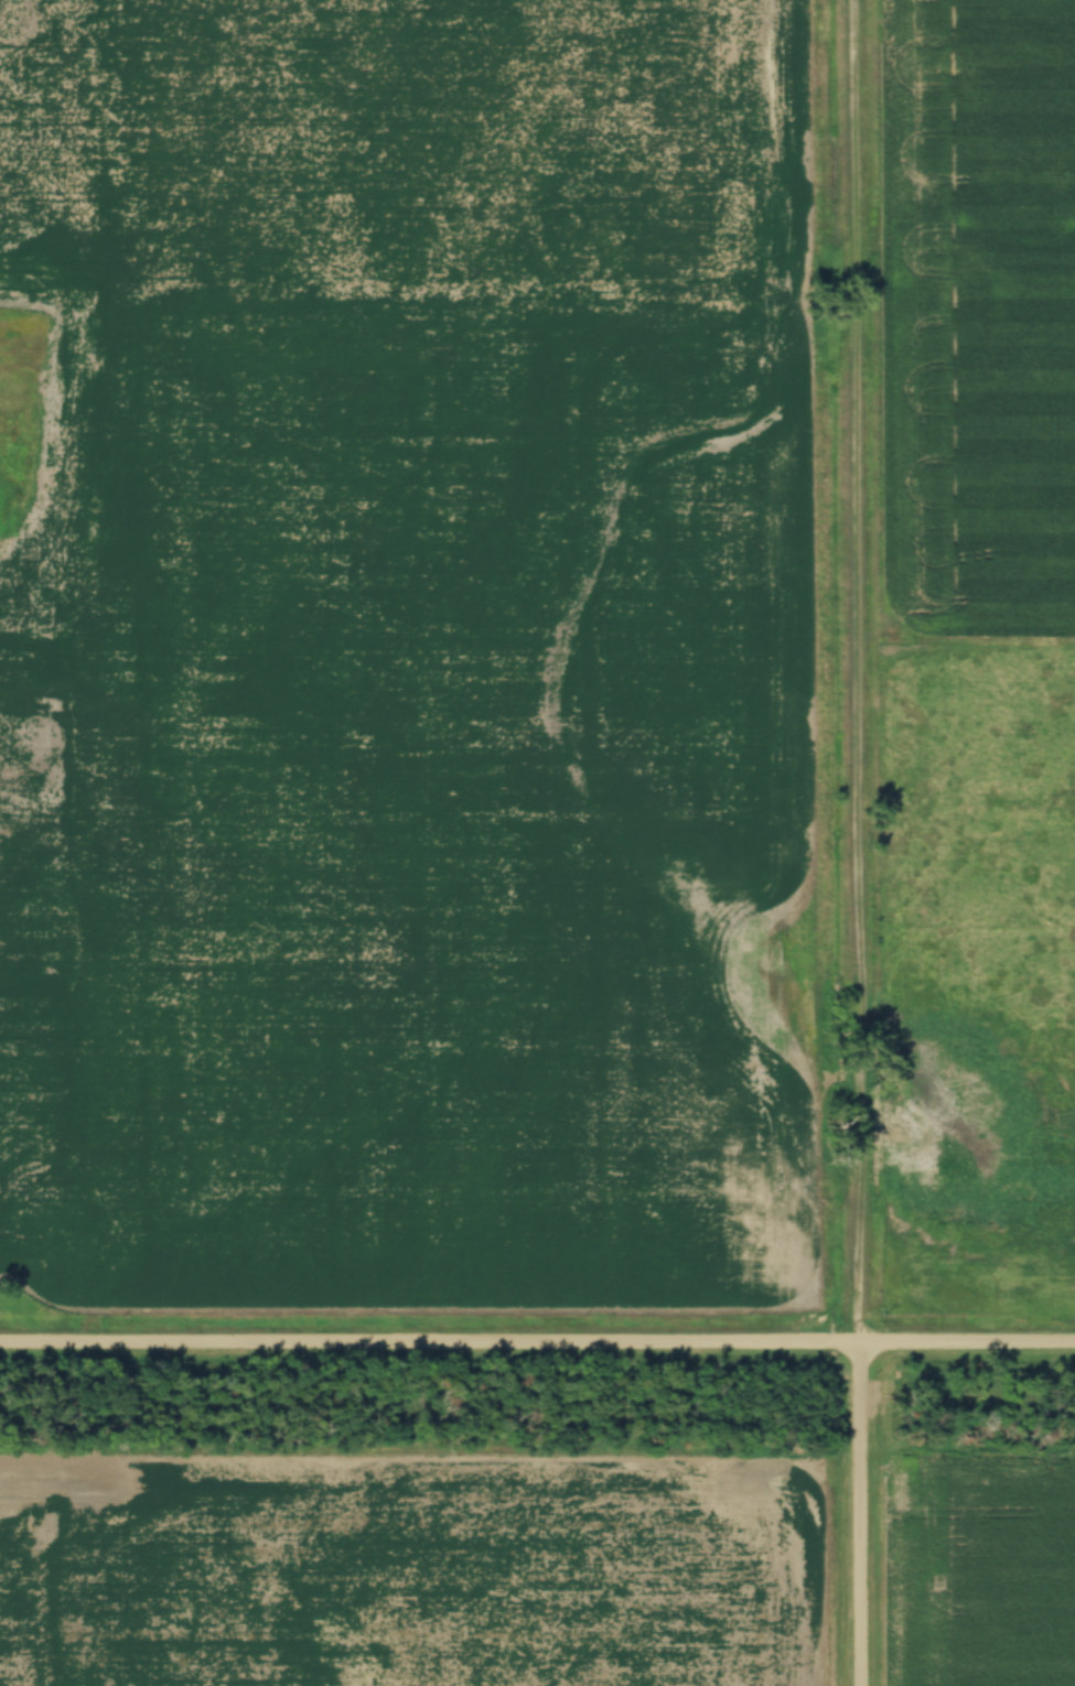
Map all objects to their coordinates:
road: (859, 843)
road: (537, 1339)

